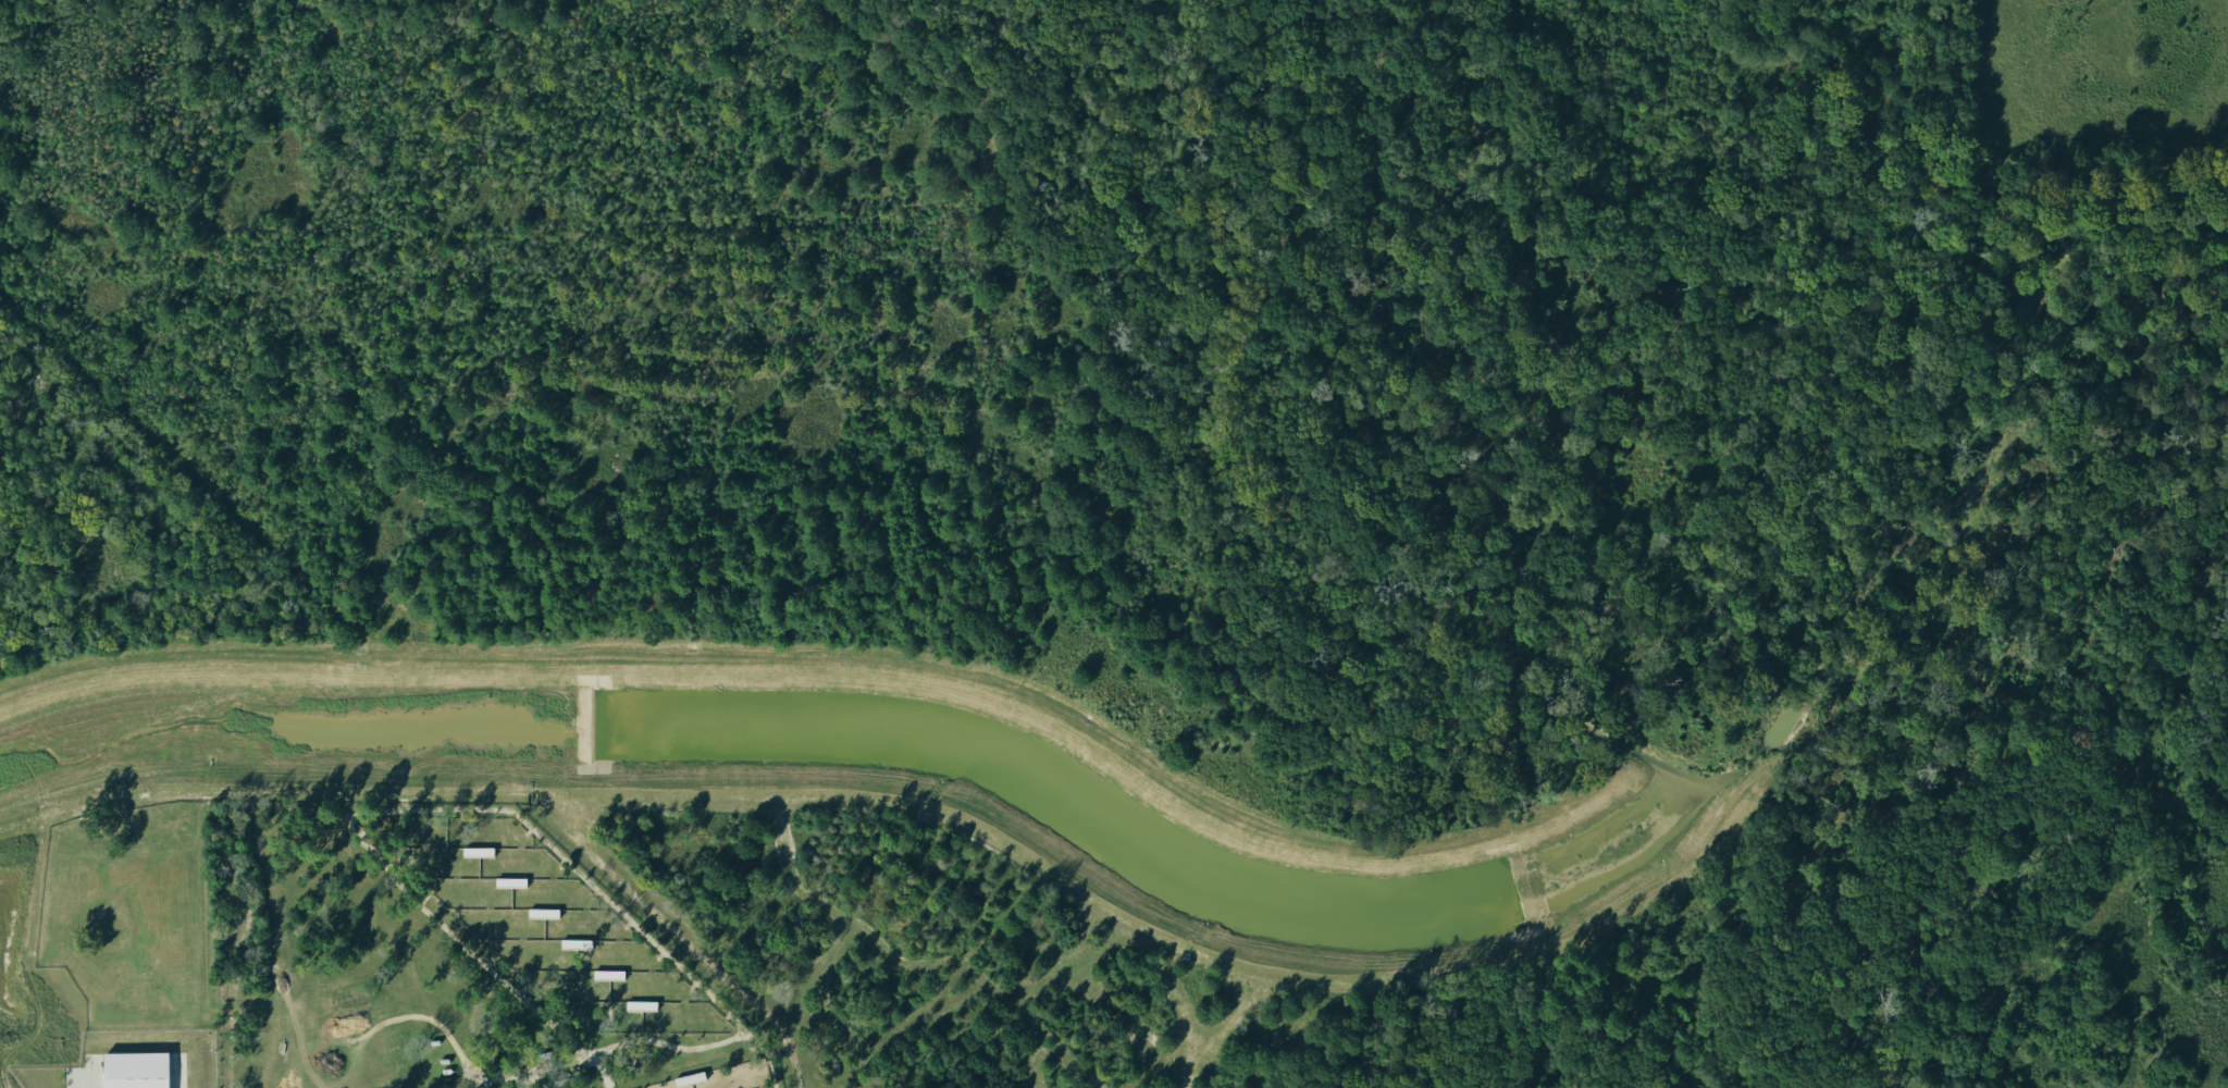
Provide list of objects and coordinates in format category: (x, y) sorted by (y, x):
building: (476, 851)
building: (509, 881)
building: (542, 913)
building: (574, 942)
building: (607, 974)
building: (640, 1004)
building: (135, 1070)
building: (690, 1078)

